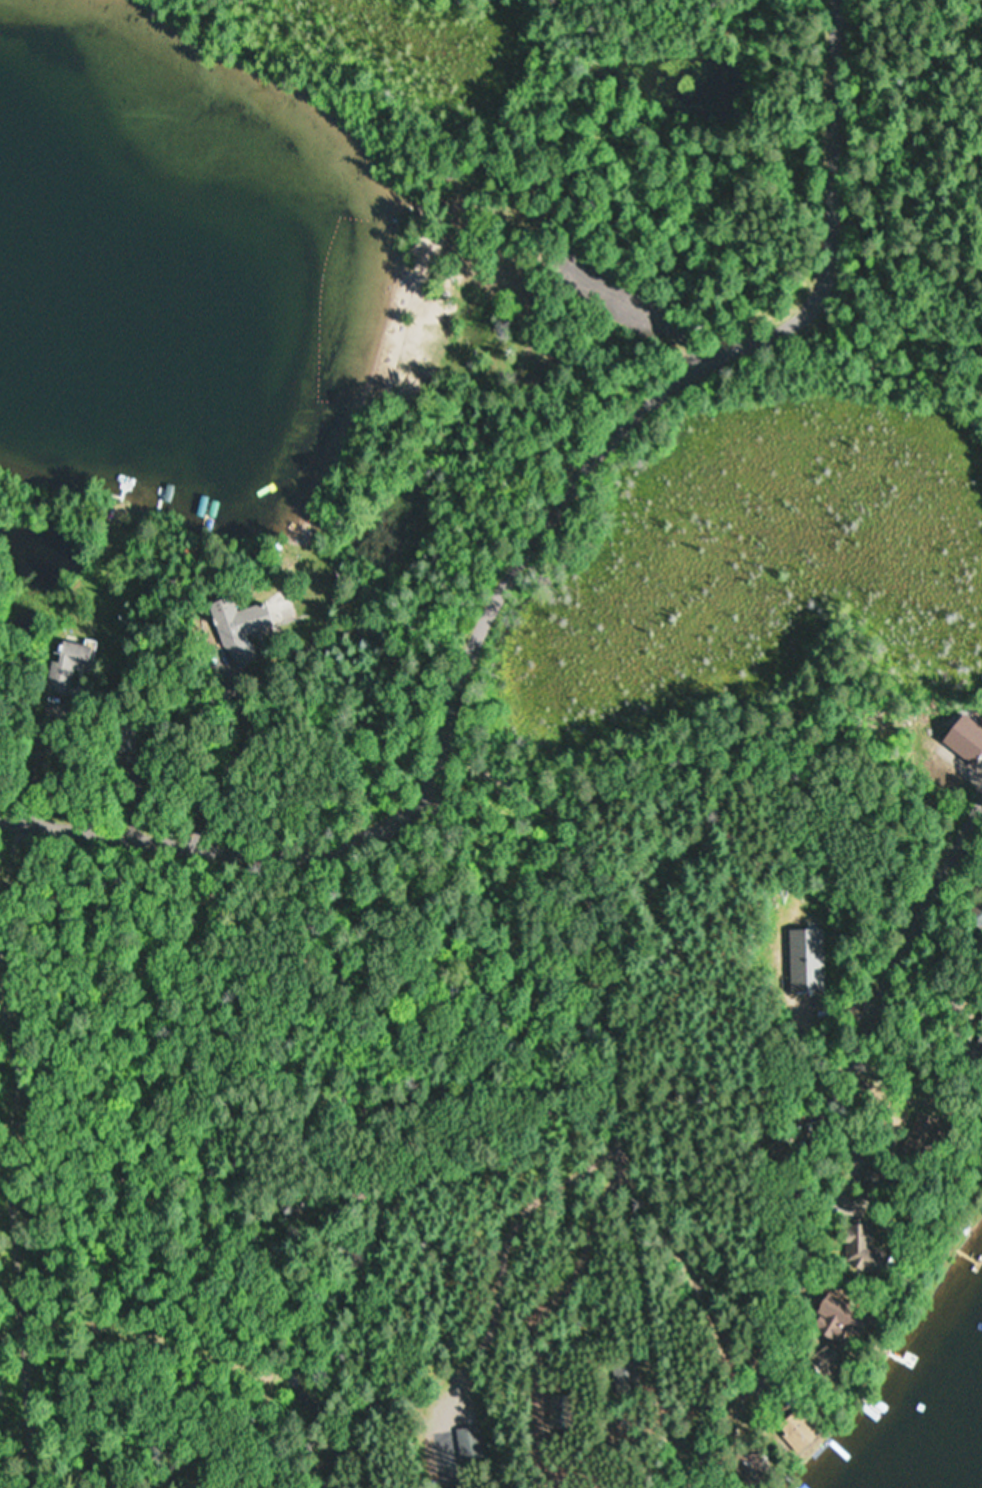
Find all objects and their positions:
parking lot: (622, 293)
road: (647, 303)
road: (522, 555)
building: (229, 617)
building: (73, 658)
building: (977, 913)
building: (806, 961)
road: (610, 986)
road: (470, 1177)
road: (808, 1190)
building: (852, 1249)
building: (826, 1322)
building: (818, 1365)
building: (790, 1433)
building: (465, 1443)
building: (740, 1469)

